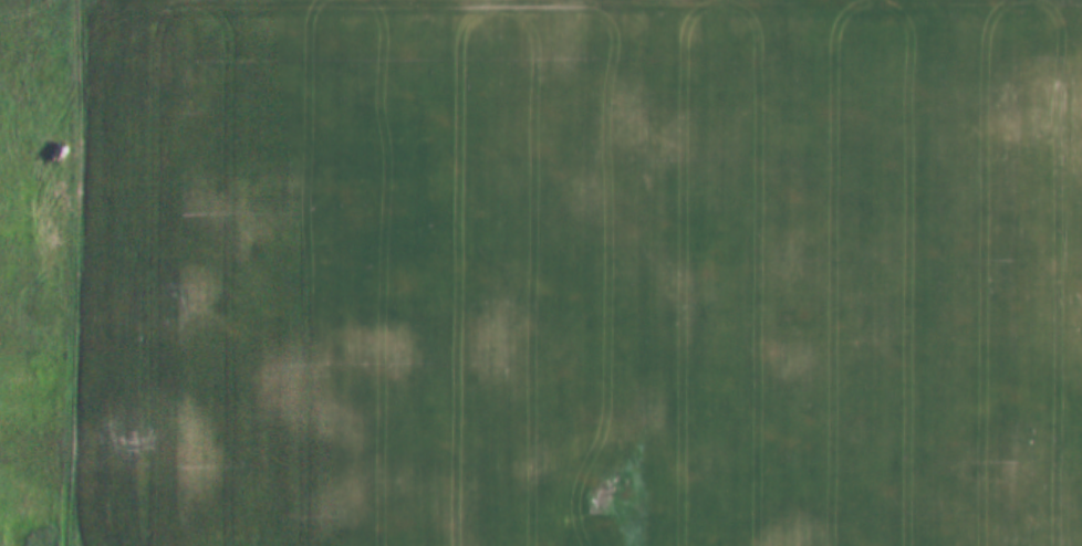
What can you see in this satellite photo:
road: (70, 273)

